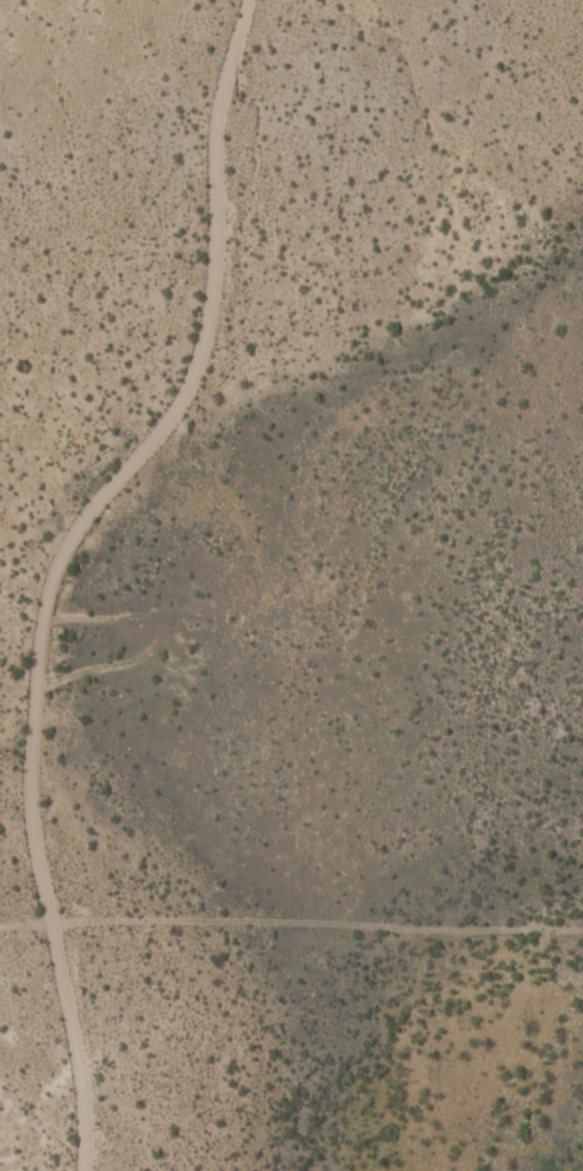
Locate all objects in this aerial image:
road: (33, 577)
road: (291, 923)

